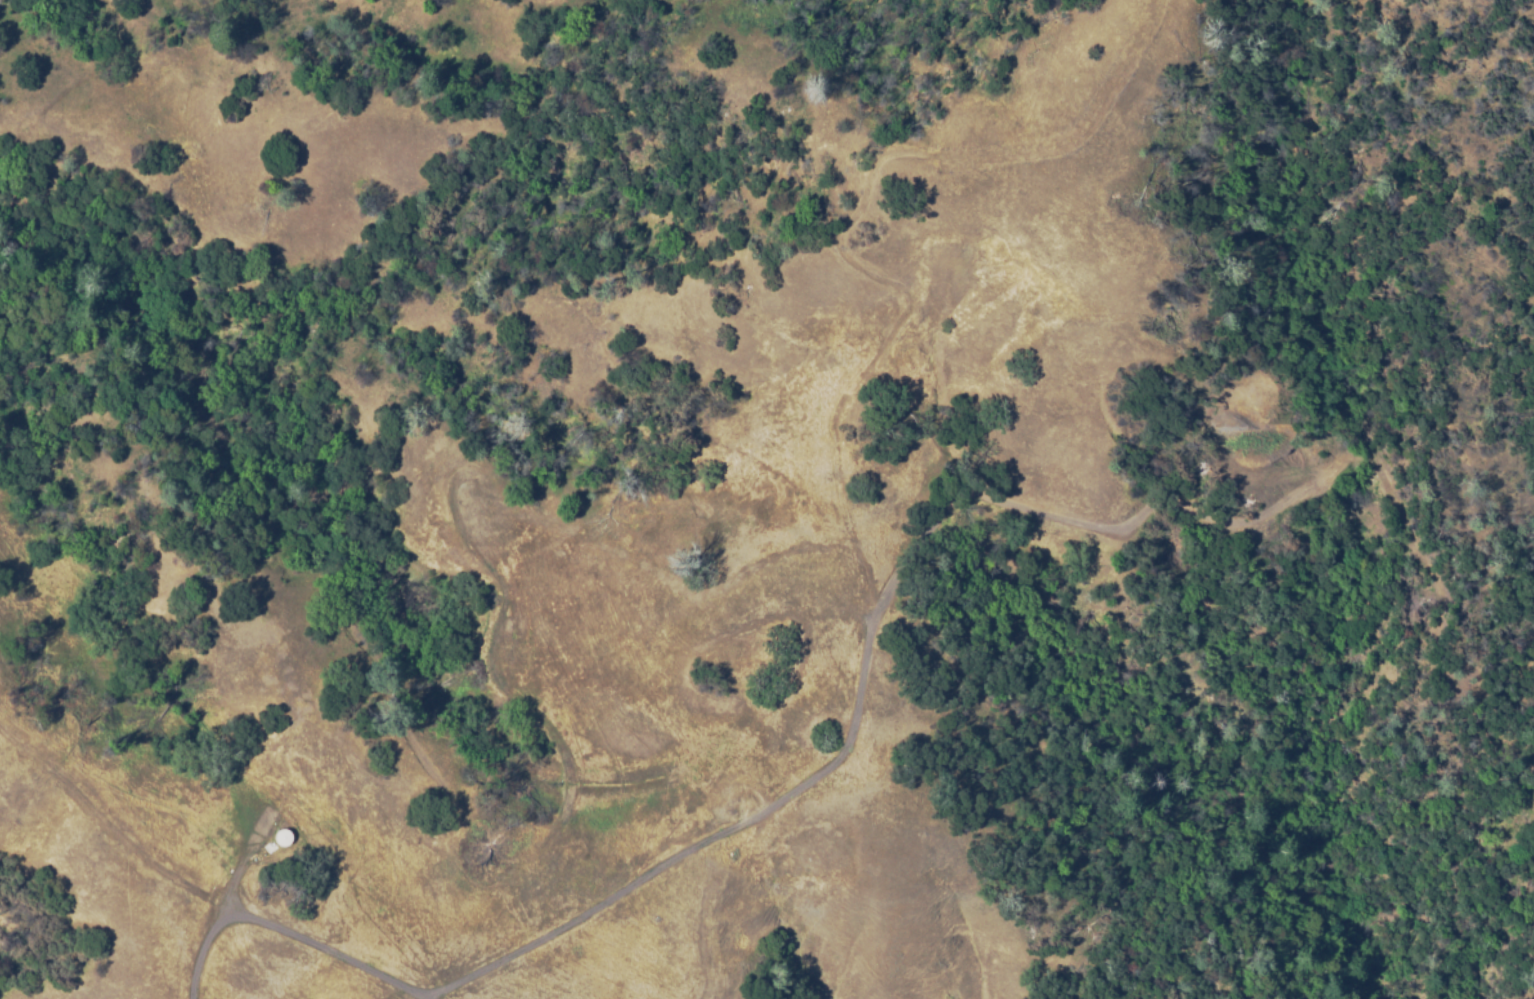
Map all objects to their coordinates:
building: (283, 834)

